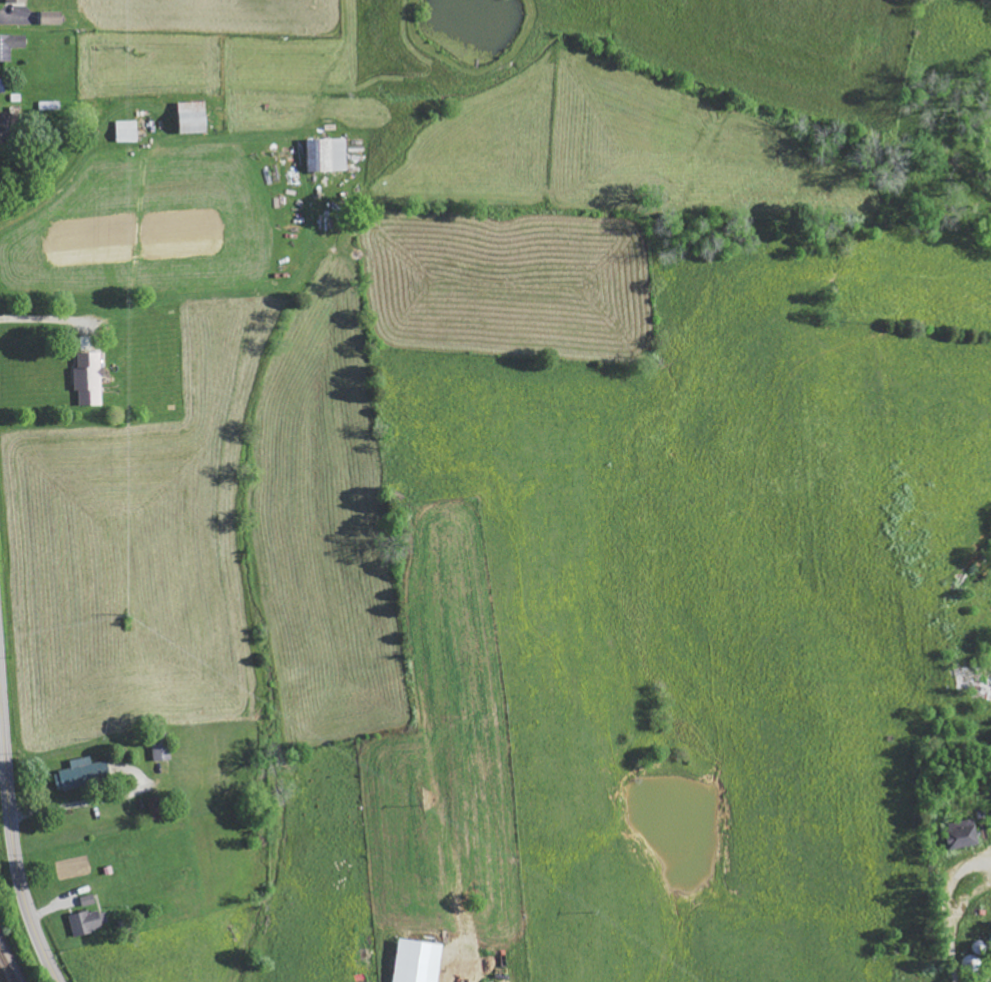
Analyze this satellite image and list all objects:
building: (18, 1)
building: (54, 18)
building: (11, 45)
building: (3, 85)
building: (195, 117)
building: (9, 128)
building: (128, 131)
building: (328, 155)
building: (87, 344)
building: (90, 380)
building: (162, 751)
building: (83, 773)
building: (157, 808)
road: (12, 815)
building: (964, 834)
building: (90, 921)
road: (950, 951)
building: (420, 961)
railway: (7, 968)
railway: (2, 977)

